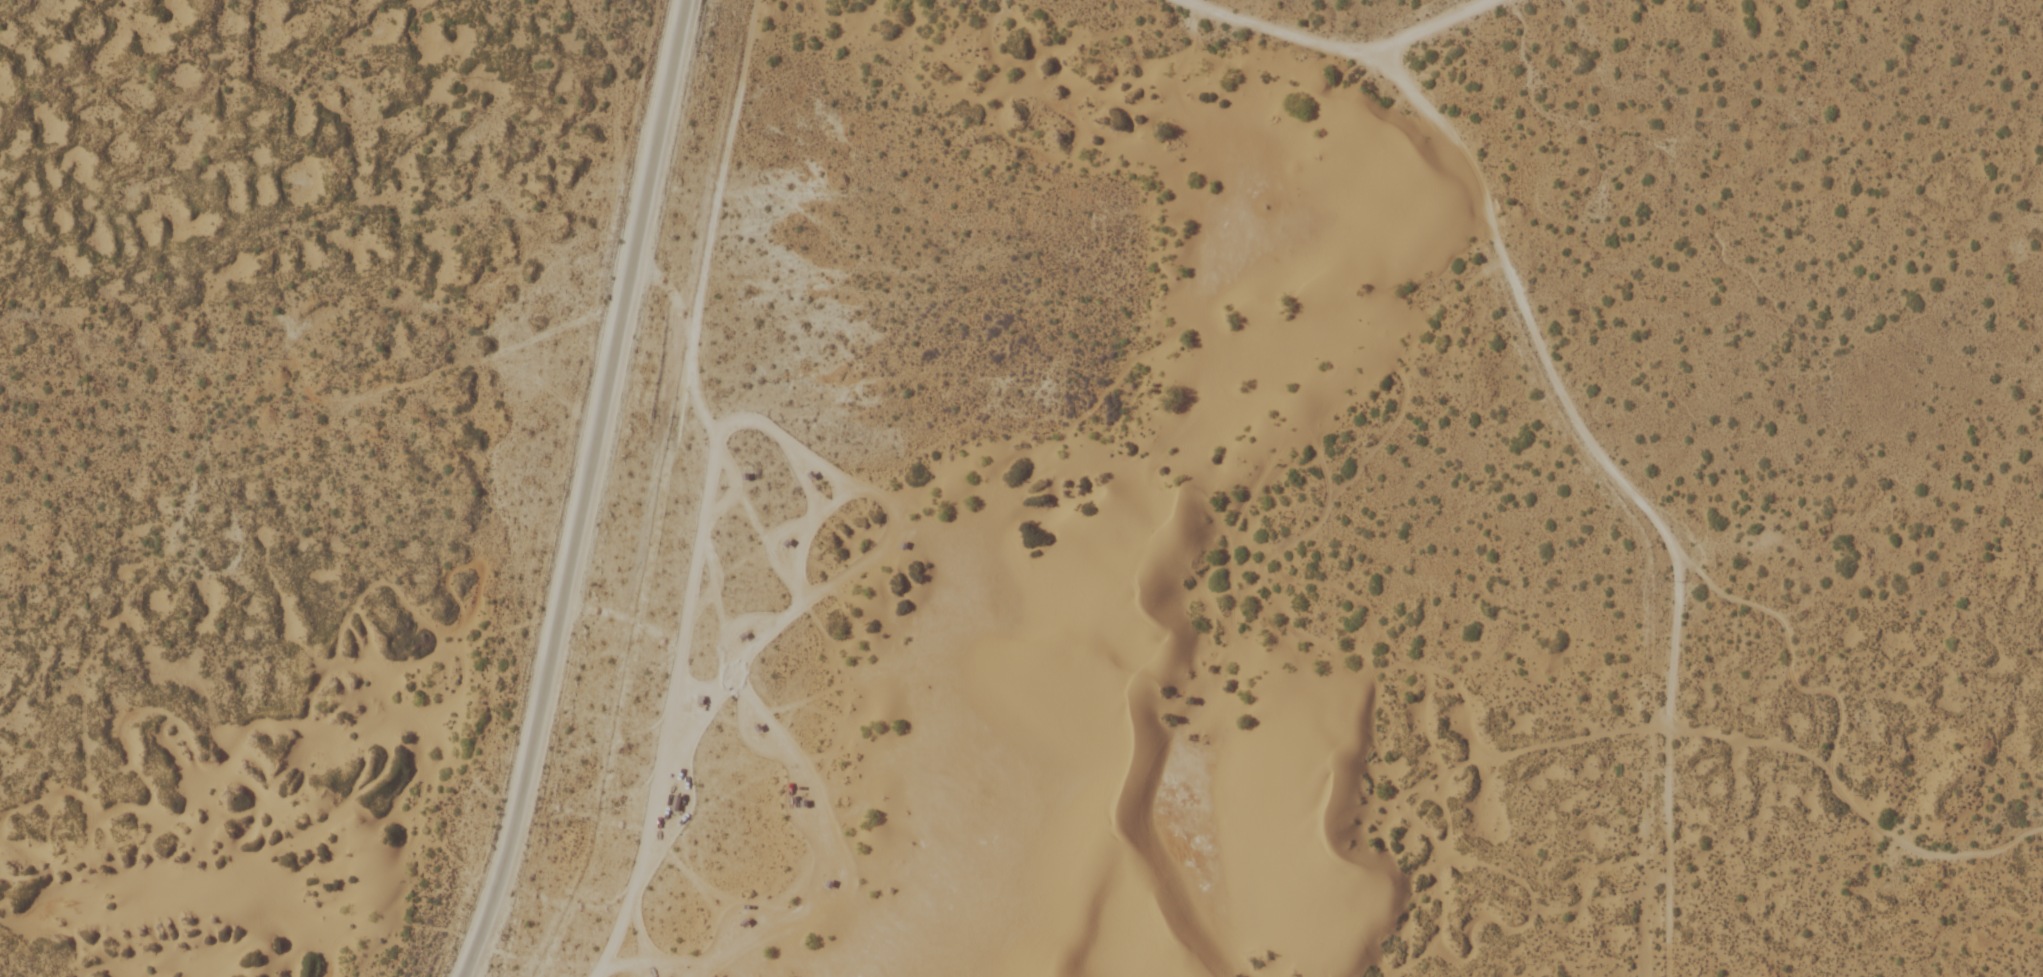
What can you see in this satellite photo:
road: (1413, 31)
road: (1569, 410)
road: (584, 491)
building: (673, 802)

